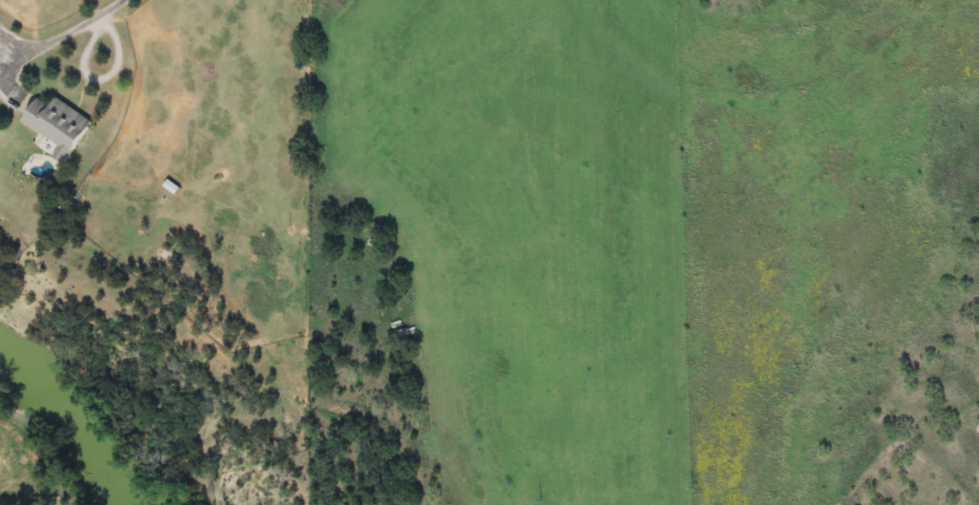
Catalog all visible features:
road: (66, 34)
building: (60, 126)
crop: (156, 251)

